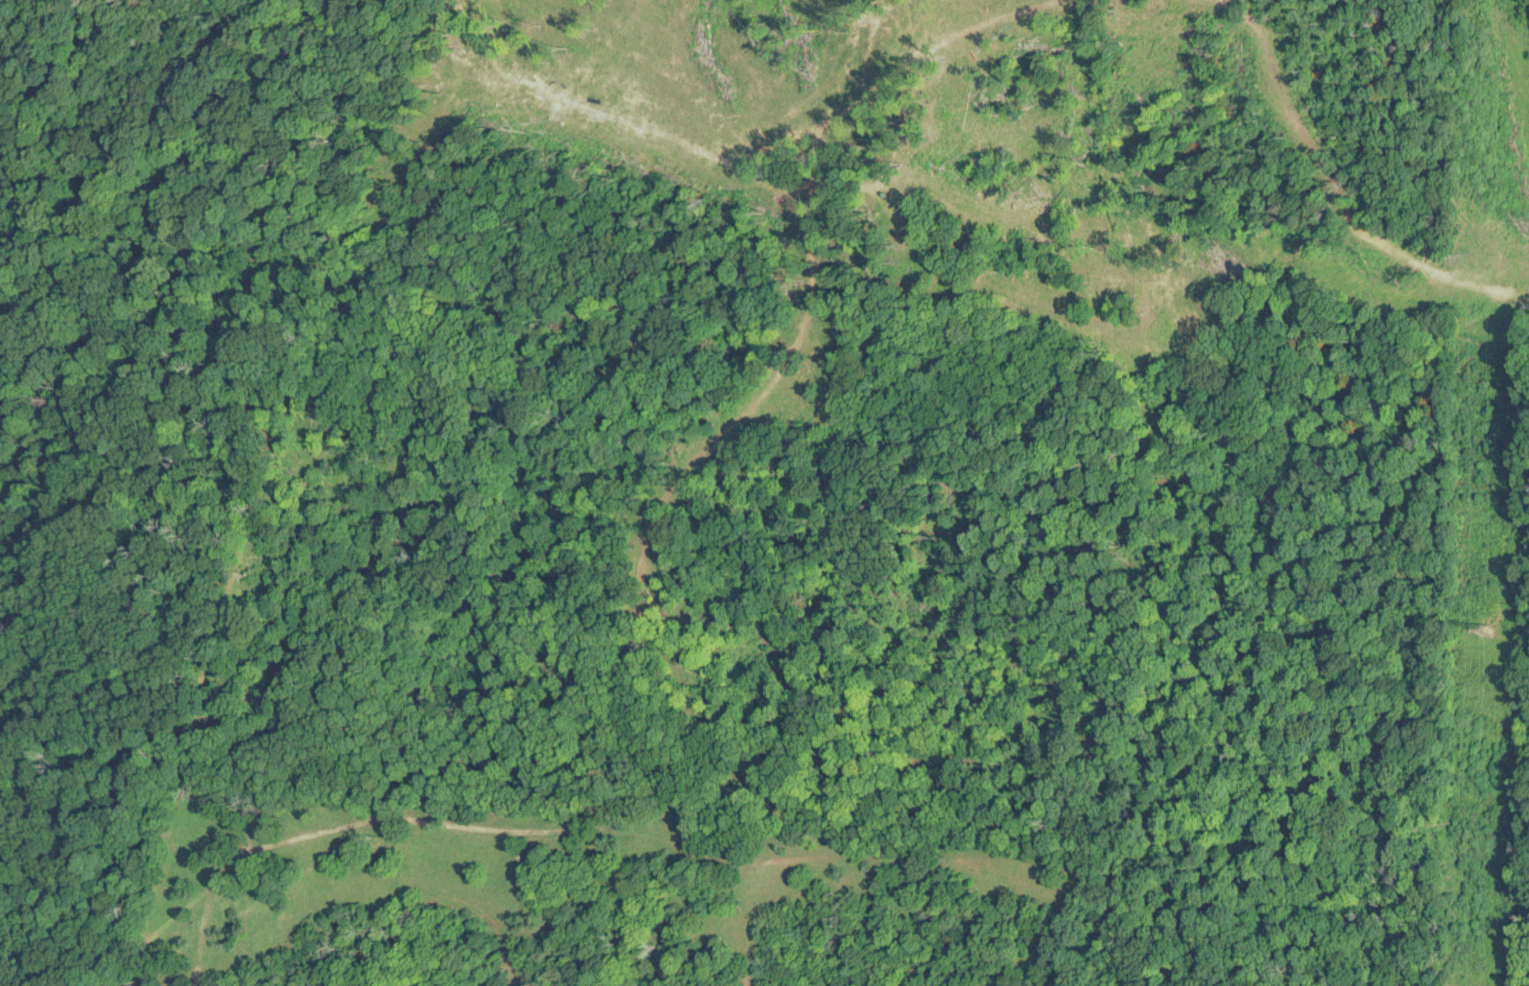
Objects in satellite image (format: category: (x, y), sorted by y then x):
power tower: (1487, 630)

